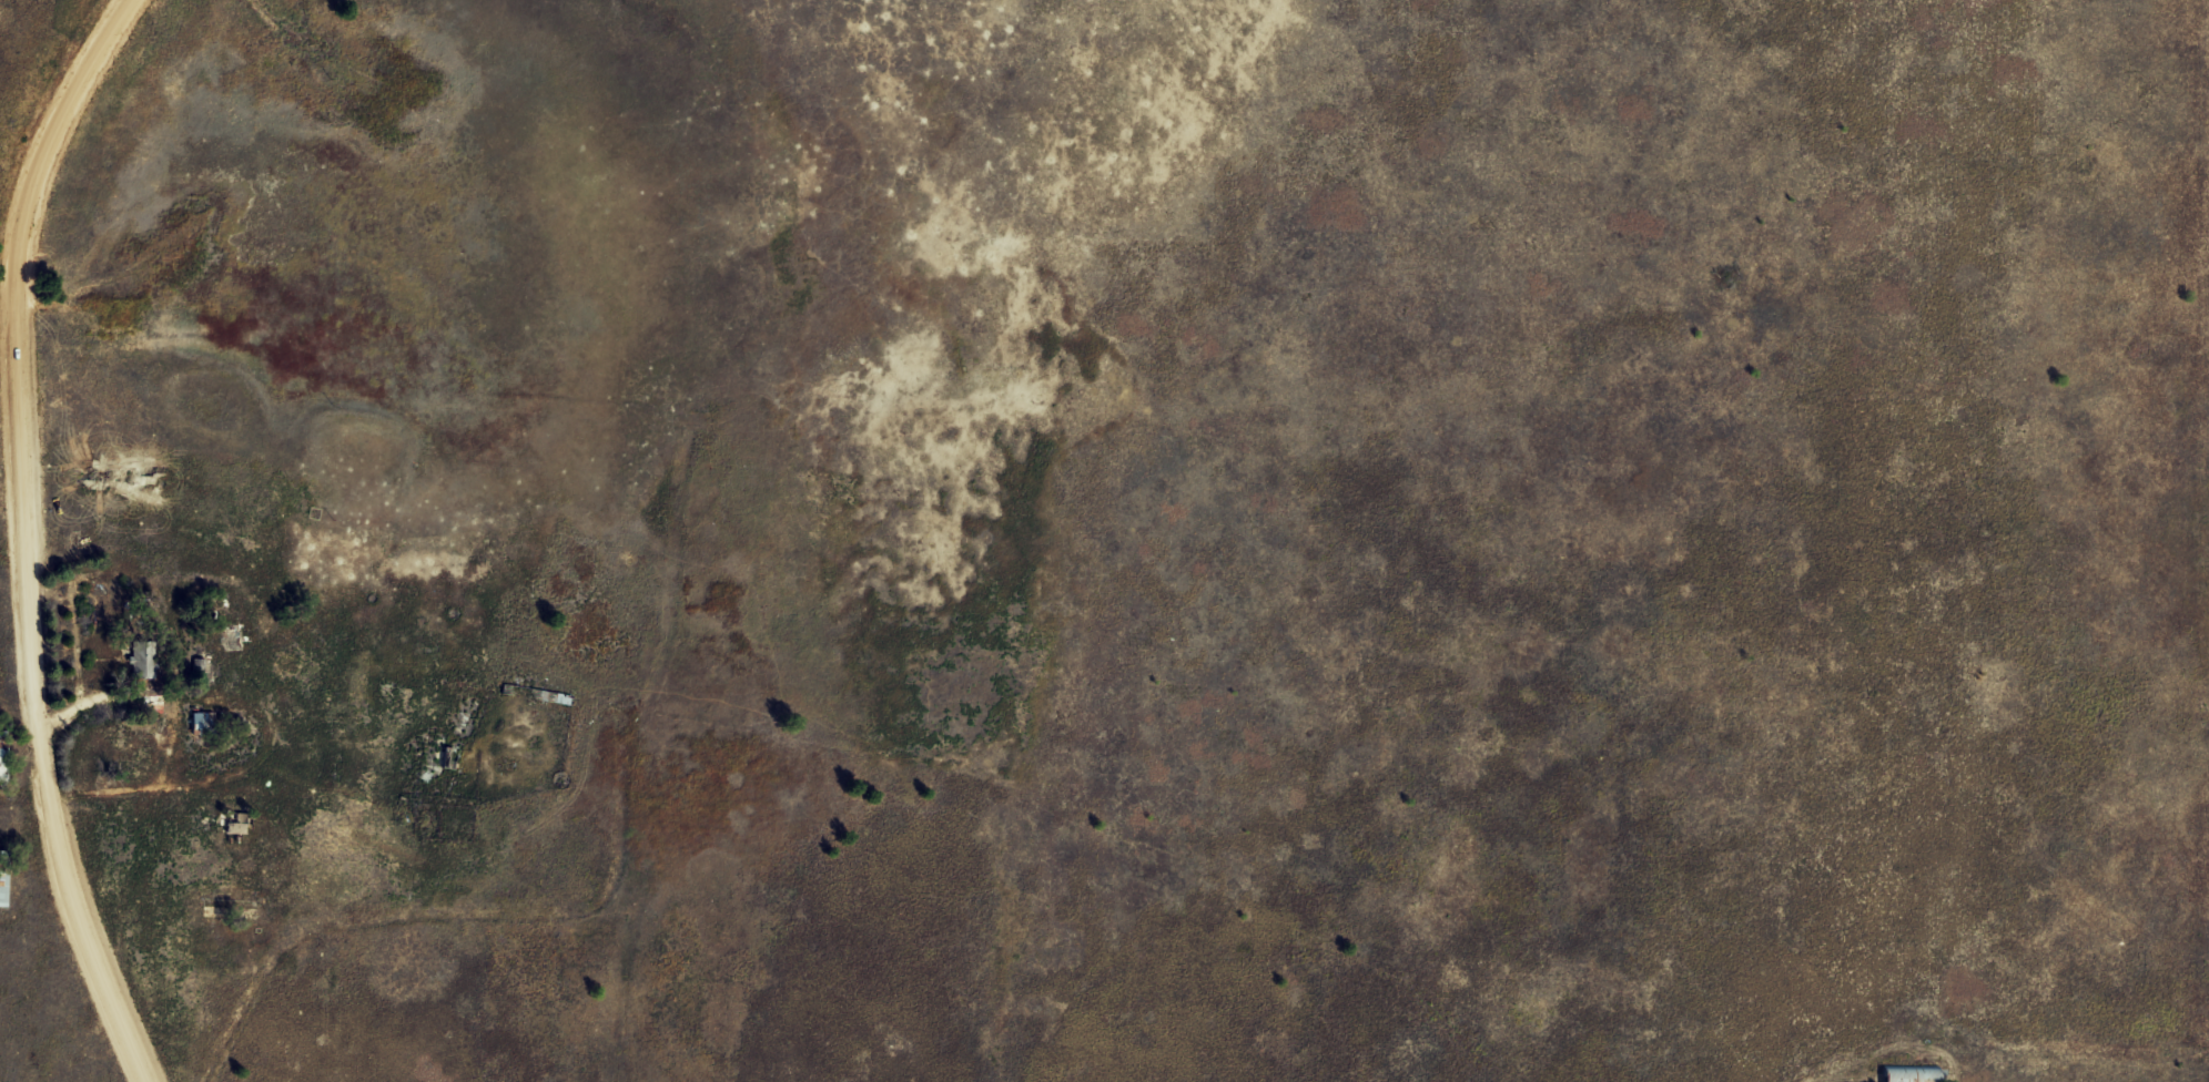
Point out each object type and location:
road: (95, 537)
building: (560, 698)
building: (3, 764)
building: (3, 900)
building: (1904, 1074)

